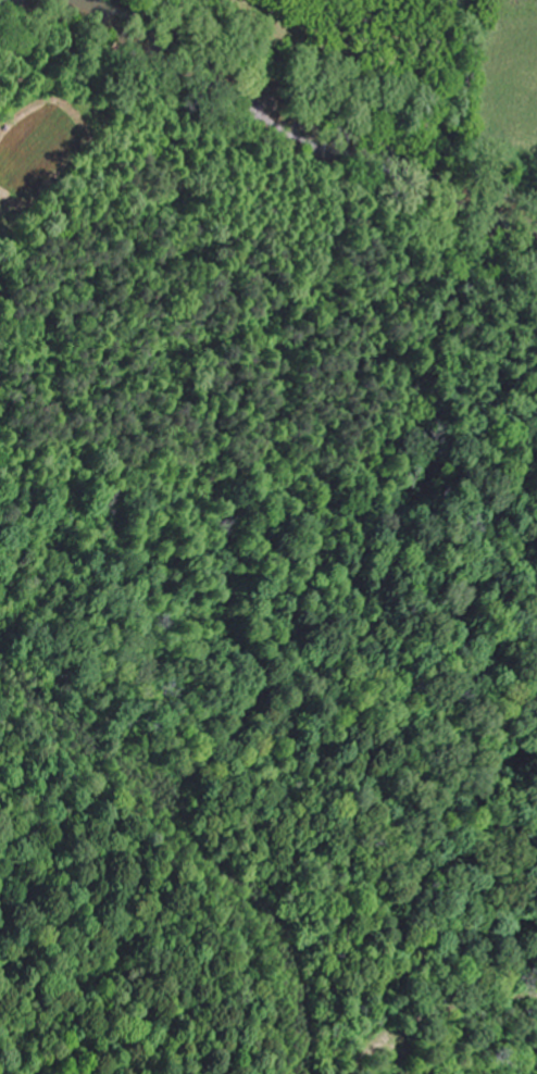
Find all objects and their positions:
road: (97, 76)

